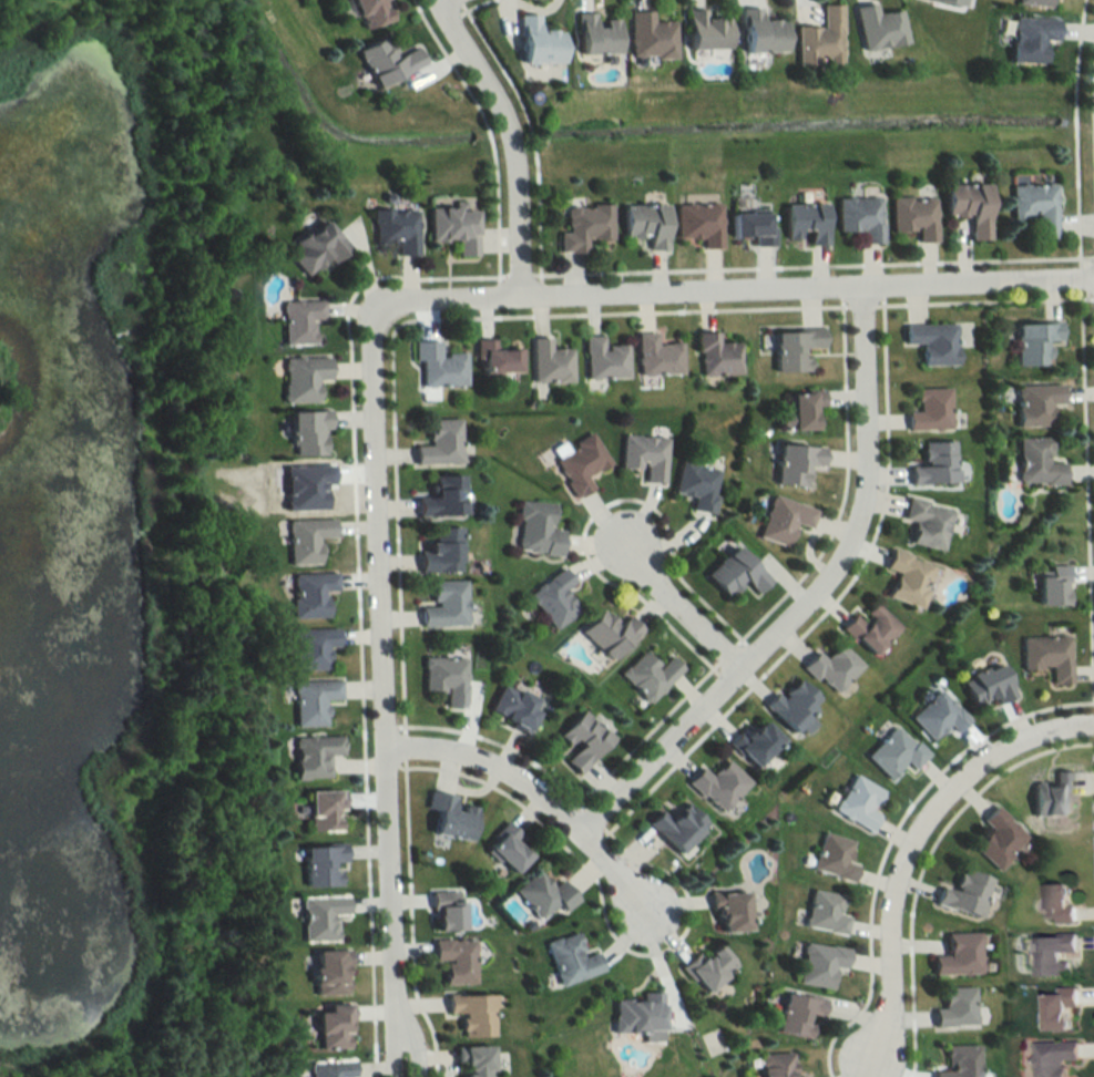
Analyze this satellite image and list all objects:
road: (457, 1)
building: (941, 2)
building: (1031, 2)
road: (470, 6)
building: (365, 12)
building: (875, 28)
building: (701, 30)
building: (757, 32)
building: (591, 35)
building: (646, 37)
building: (1027, 39)
building: (817, 40)
building: (533, 42)
road: (493, 60)
building: (382, 62)
road: (448, 62)
road: (526, 131)
road: (1072, 132)
road: (485, 135)
road: (503, 139)
building: (964, 207)
building: (1032, 207)
road: (535, 209)
road: (494, 213)
building: (911, 216)
building: (857, 217)
building: (696, 223)
building: (801, 223)
building: (642, 225)
building: (581, 226)
building: (748, 227)
building: (450, 228)
building: (393, 229)
building: (311, 249)
road: (810, 265)
road: (517, 273)
road: (1081, 277)
road: (745, 288)
road: (1084, 293)
road: (982, 300)
road: (840, 301)
road: (859, 305)
road: (413, 318)
building: (297, 321)
building: (930, 342)
building: (1030, 342)
building: (789, 349)
building: (654, 357)
building: (713, 357)
building: (492, 359)
building: (601, 360)
building: (546, 363)
building: (437, 366)
building: (300, 379)
building: (1032, 404)
building: (799, 410)
building: (928, 411)
building: (306, 434)
building: (438, 444)
building: (641, 457)
building: (1034, 462)
building: (791, 464)
building: (576, 465)
building: (930, 465)
building: (694, 485)
road: (840, 493)
building: (439, 498)
road: (1084, 500)
road: (595, 509)
building: (779, 521)
building: (924, 522)
road: (648, 527)
building: (533, 530)
building: (309, 538)
building: (437, 552)
building: (729, 573)
building: (904, 578)
building: (1047, 587)
building: (314, 593)
road: (807, 596)
building: (550, 599)
road: (356, 603)
road: (827, 604)
building: (442, 605)
road: (693, 619)
building: (866, 628)
building: (605, 634)
building: (315, 647)
road: (724, 652)
building: (1045, 657)
building: (829, 668)
road: (380, 676)
building: (645, 676)
building: (442, 680)
building: (983, 686)
building: (315, 701)
building: (787, 705)
building: (509, 709)
building: (934, 716)
road: (643, 732)
building: (579, 741)
building: (750, 742)
road: (499, 743)
road: (402, 746)
building: (892, 752)
building: (316, 756)
road: (521, 781)
building: (716, 786)
road: (1092, 790)
building: (1052, 797)
building: (855, 802)
building: (328, 809)
road: (592, 817)
building: (446, 818)
road: (918, 823)
building: (673, 827)
road: (888, 835)
building: (995, 839)
building: (502, 848)
building: (830, 858)
road: (922, 860)
building: (326, 864)
building: (960, 894)
building: (541, 895)
road: (600, 903)
building: (1057, 904)
building: (449, 910)
building: (726, 912)
building: (822, 913)
building: (323, 916)
road: (408, 919)
road: (655, 927)
building: (955, 955)
building: (1053, 955)
building: (457, 960)
building: (568, 960)
building: (816, 964)
building: (704, 967)
building: (333, 972)
building: (952, 1008)
building: (1059, 1009)
building: (473, 1013)
building: (635, 1015)
building: (794, 1016)
building: (336, 1027)
road: (872, 1027)
building: (1053, 1058)
building: (476, 1060)
building: (958, 1061)
building: (771, 1065)
building: (333, 1068)
road: (397, 1071)

